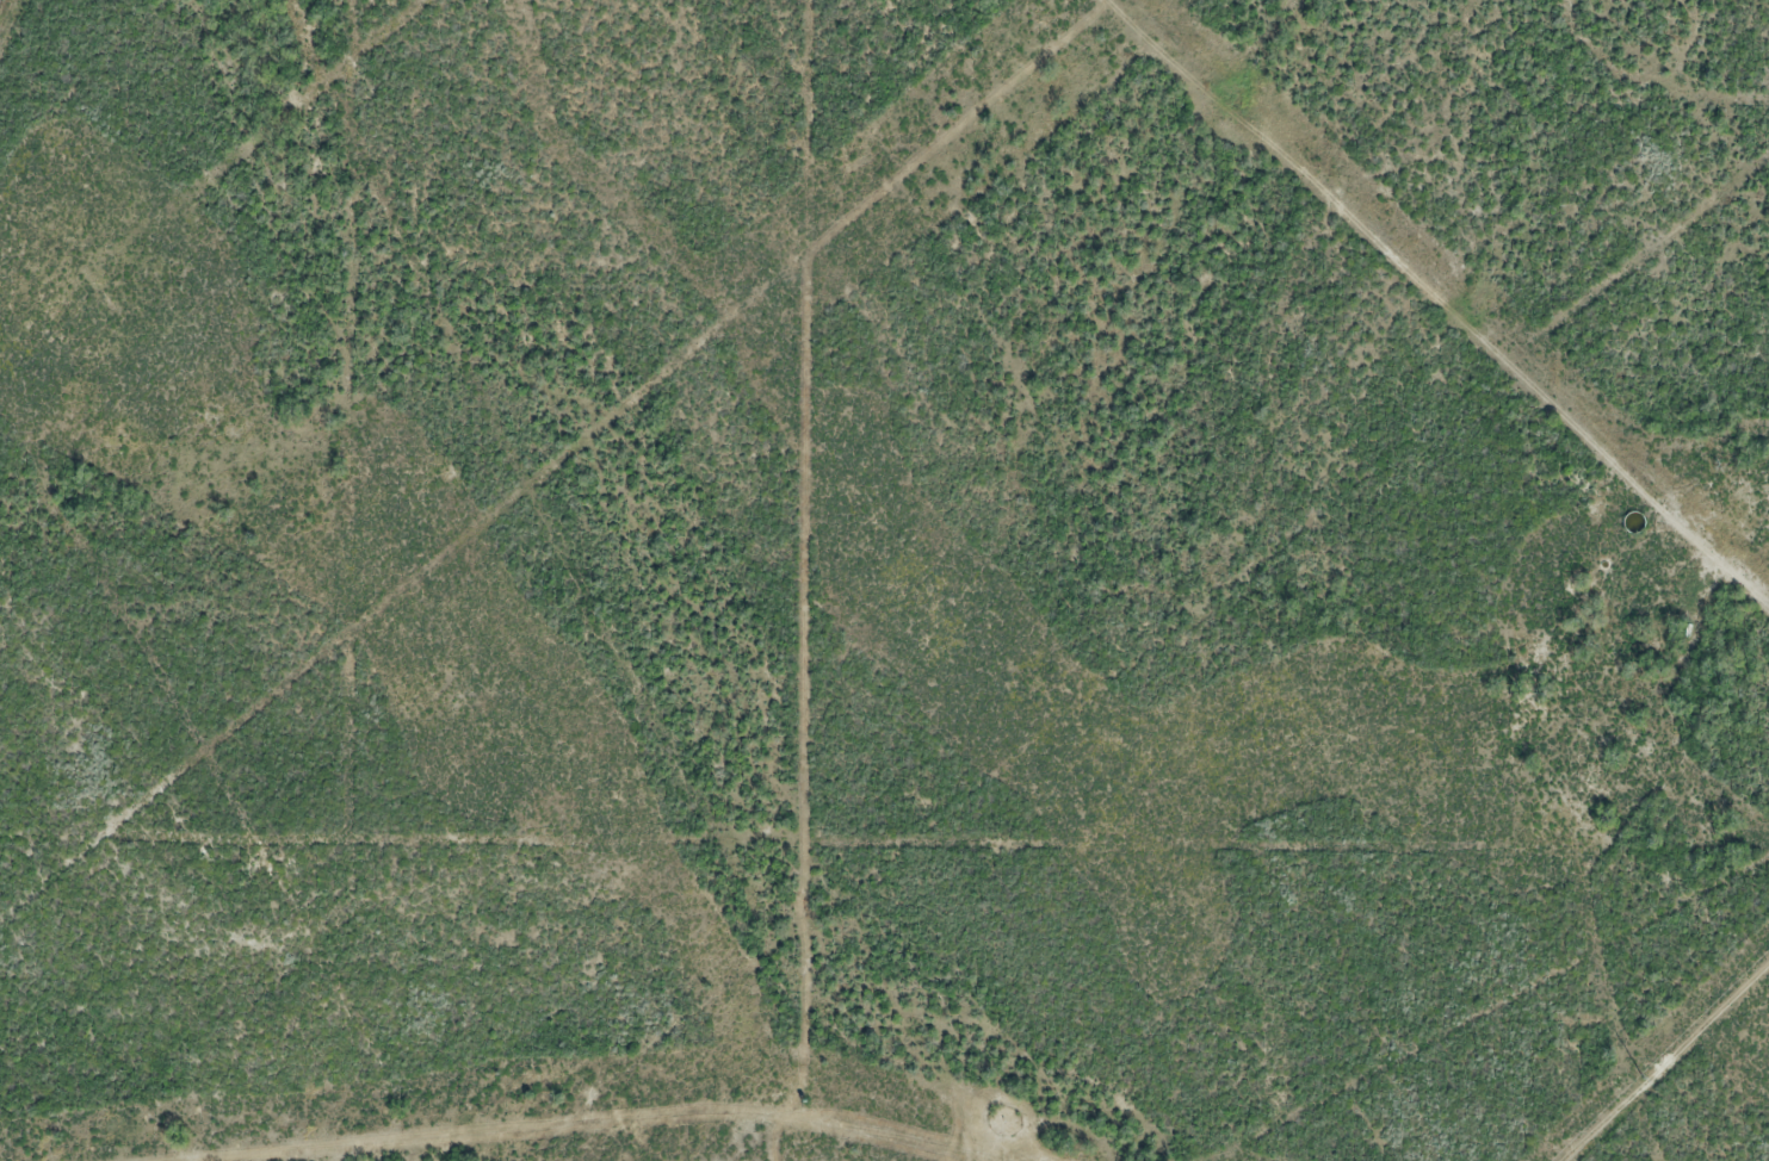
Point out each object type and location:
power tower: (1643, 1076)

